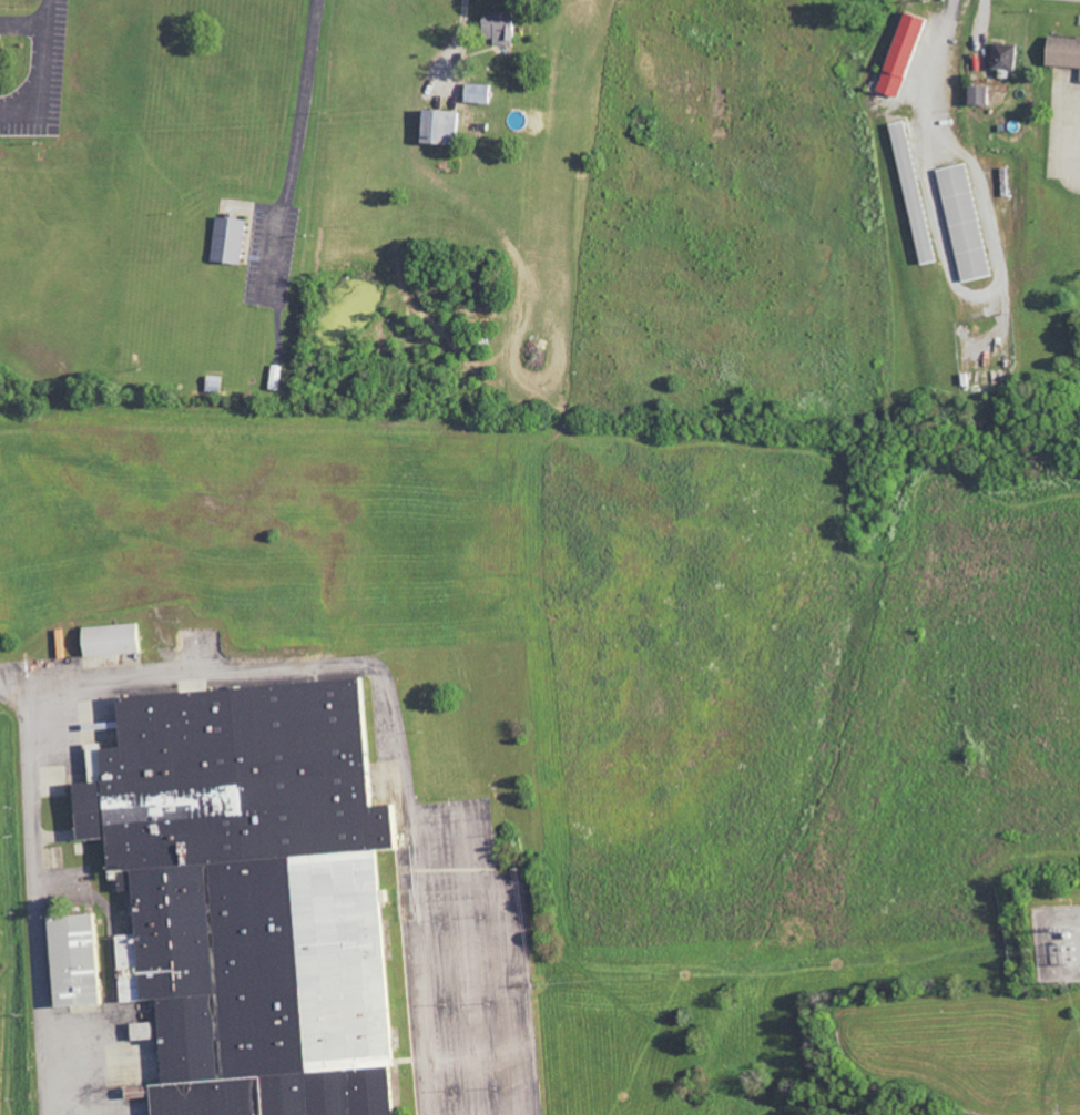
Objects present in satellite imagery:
building: (506, 28)
road: (461, 40)
building: (1067, 51)
road: (937, 53)
building: (907, 54)
building: (1007, 59)
building: (1, 62)
building: (483, 93)
building: (982, 95)
road: (38, 111)
building: (449, 127)
road: (292, 145)
building: (967, 223)
building: (926, 237)
building: (234, 241)
road: (984, 293)
building: (115, 640)
road: (222, 675)
building: (255, 894)
building: (82, 961)
building: (145, 1031)

